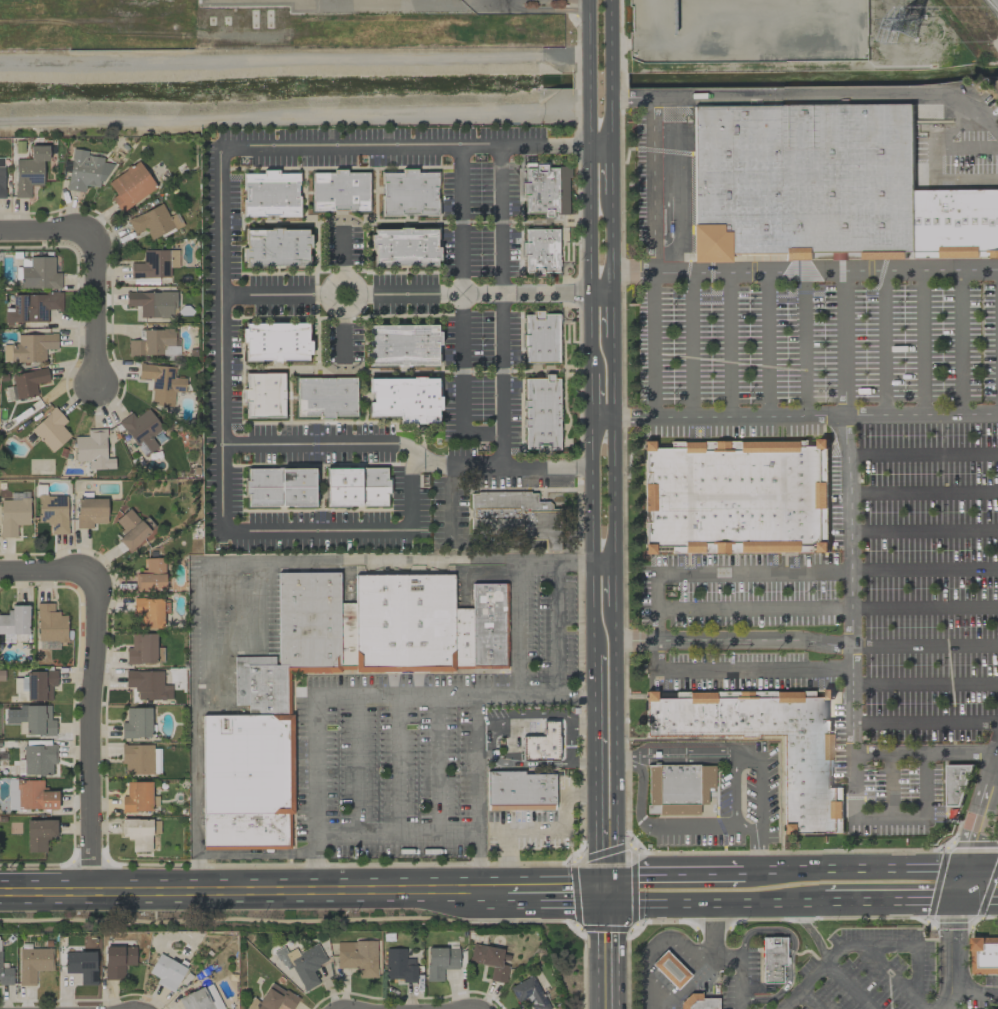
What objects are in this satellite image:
road: (554, 1)
power tower: (905, 21)
road: (608, 30)
power substation: (747, 30)
road: (586, 31)
road: (293, 63)
road: (608, 78)
road: (587, 80)
road: (786, 96)
road: (981, 116)
road: (609, 120)
road: (284, 146)
road: (965, 149)
road: (933, 163)
building: (29, 171)
building: (85, 171)
road: (609, 172)
building: (1, 178)
building: (787, 183)
building: (724, 184)
building: (888, 185)
building: (130, 186)
building: (839, 187)
building: (545, 189)
building: (339, 191)
building: (408, 193)
building: (270, 194)
building: (154, 222)
building: (956, 227)
road: (588, 229)
road: (43, 231)
road: (610, 245)
building: (275, 247)
building: (404, 247)
road: (502, 251)
building: (540, 251)
road: (342, 253)
road: (653, 255)
building: (154, 264)
building: (38, 273)
road: (804, 274)
road: (358, 292)
road: (485, 296)
building: (151, 303)
road: (461, 306)
building: (31, 307)
road: (94, 311)
road: (611, 325)
road: (342, 335)
building: (540, 338)
building: (275, 341)
building: (152, 342)
road: (921, 344)
road: (962, 344)
building: (402, 345)
road: (688, 345)
road: (727, 345)
road: (767, 345)
road: (805, 345)
road: (846, 345)
road: (886, 345)
building: (29, 347)
building: (161, 383)
building: (25, 384)
road: (589, 390)
building: (264, 395)
building: (326, 397)
building: (404, 400)
building: (541, 414)
road: (793, 416)
building: (51, 430)
building: (141, 431)
road: (315, 444)
building: (92, 450)
road: (923, 456)
road: (612, 459)
building: (280, 487)
building: (356, 487)
road: (924, 494)
road: (450, 499)
building: (733, 501)
building: (53, 512)
building: (90, 512)
building: (511, 514)
building: (13, 515)
building: (131, 529)
road: (590, 530)
road: (276, 531)
road: (924, 534)
road: (563, 559)
road: (291, 560)
road: (45, 570)
road: (683, 573)
building: (150, 576)
road: (850, 585)
road: (612, 586)
road: (828, 610)
building: (147, 612)
building: (50, 623)
building: (15, 624)
building: (313, 624)
building: (404, 624)
road: (515, 626)
road: (554, 626)
road: (256, 628)
building: (483, 629)
road: (732, 640)
building: (47, 644)
road: (924, 648)
building: (142, 649)
building: (39, 684)
building: (147, 684)
road: (925, 685)
building: (260, 686)
building: (19, 688)
building: (31, 720)
building: (136, 723)
road: (925, 727)
road: (95, 733)
building: (541, 743)
road: (687, 748)
road: (614, 751)
road: (925, 753)
building: (136, 758)
building: (38, 759)
building: (156, 759)
road: (399, 761)
road: (354, 762)
road: (439, 762)
building: (247, 764)
building: (805, 764)
road: (592, 768)
road: (996, 771)
road: (194, 776)
road: (313, 777)
road: (890, 786)
building: (957, 786)
building: (679, 787)
road: (761, 790)
building: (518, 791)
road: (735, 792)
building: (30, 795)
building: (138, 797)
road: (890, 818)
road: (533, 828)
road: (663, 828)
building: (245, 831)
building: (139, 832)
building: (38, 834)
road: (762, 851)
road: (235, 854)
road: (313, 862)
road: (482, 862)
traffic signals: (965, 868)
road: (981, 868)
road: (853, 870)
road: (671, 873)
road: (960, 882)
road: (254, 891)
road: (556, 893)
traffic signals: (604, 893)
traffic signals: (955, 898)
road: (976, 898)
road: (888, 899)
road: (712, 900)
road: (806, 927)
road: (851, 947)
road: (605, 951)
road: (655, 951)
road: (788, 952)
building: (985, 956)
building: (357, 957)
road: (723, 957)
building: (489, 960)
building: (772, 960)
building: (117, 961)
building: (440, 961)
building: (33, 963)
building: (301, 963)
building: (81, 965)
building: (398, 966)
building: (669, 969)
gas station: (670, 969)
building: (166, 972)
road: (918, 974)
building: (6, 976)
road: (895, 977)
road: (686, 984)
road: (848, 986)
road: (974, 992)
building: (528, 993)
building: (275, 998)
building: (200, 999)
road: (806, 999)
building: (698, 1002)

